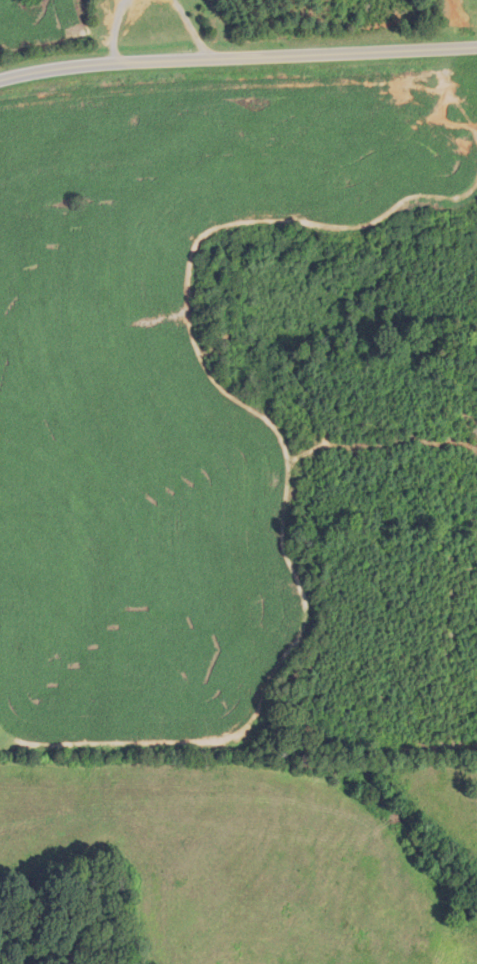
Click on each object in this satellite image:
road: (237, 47)

